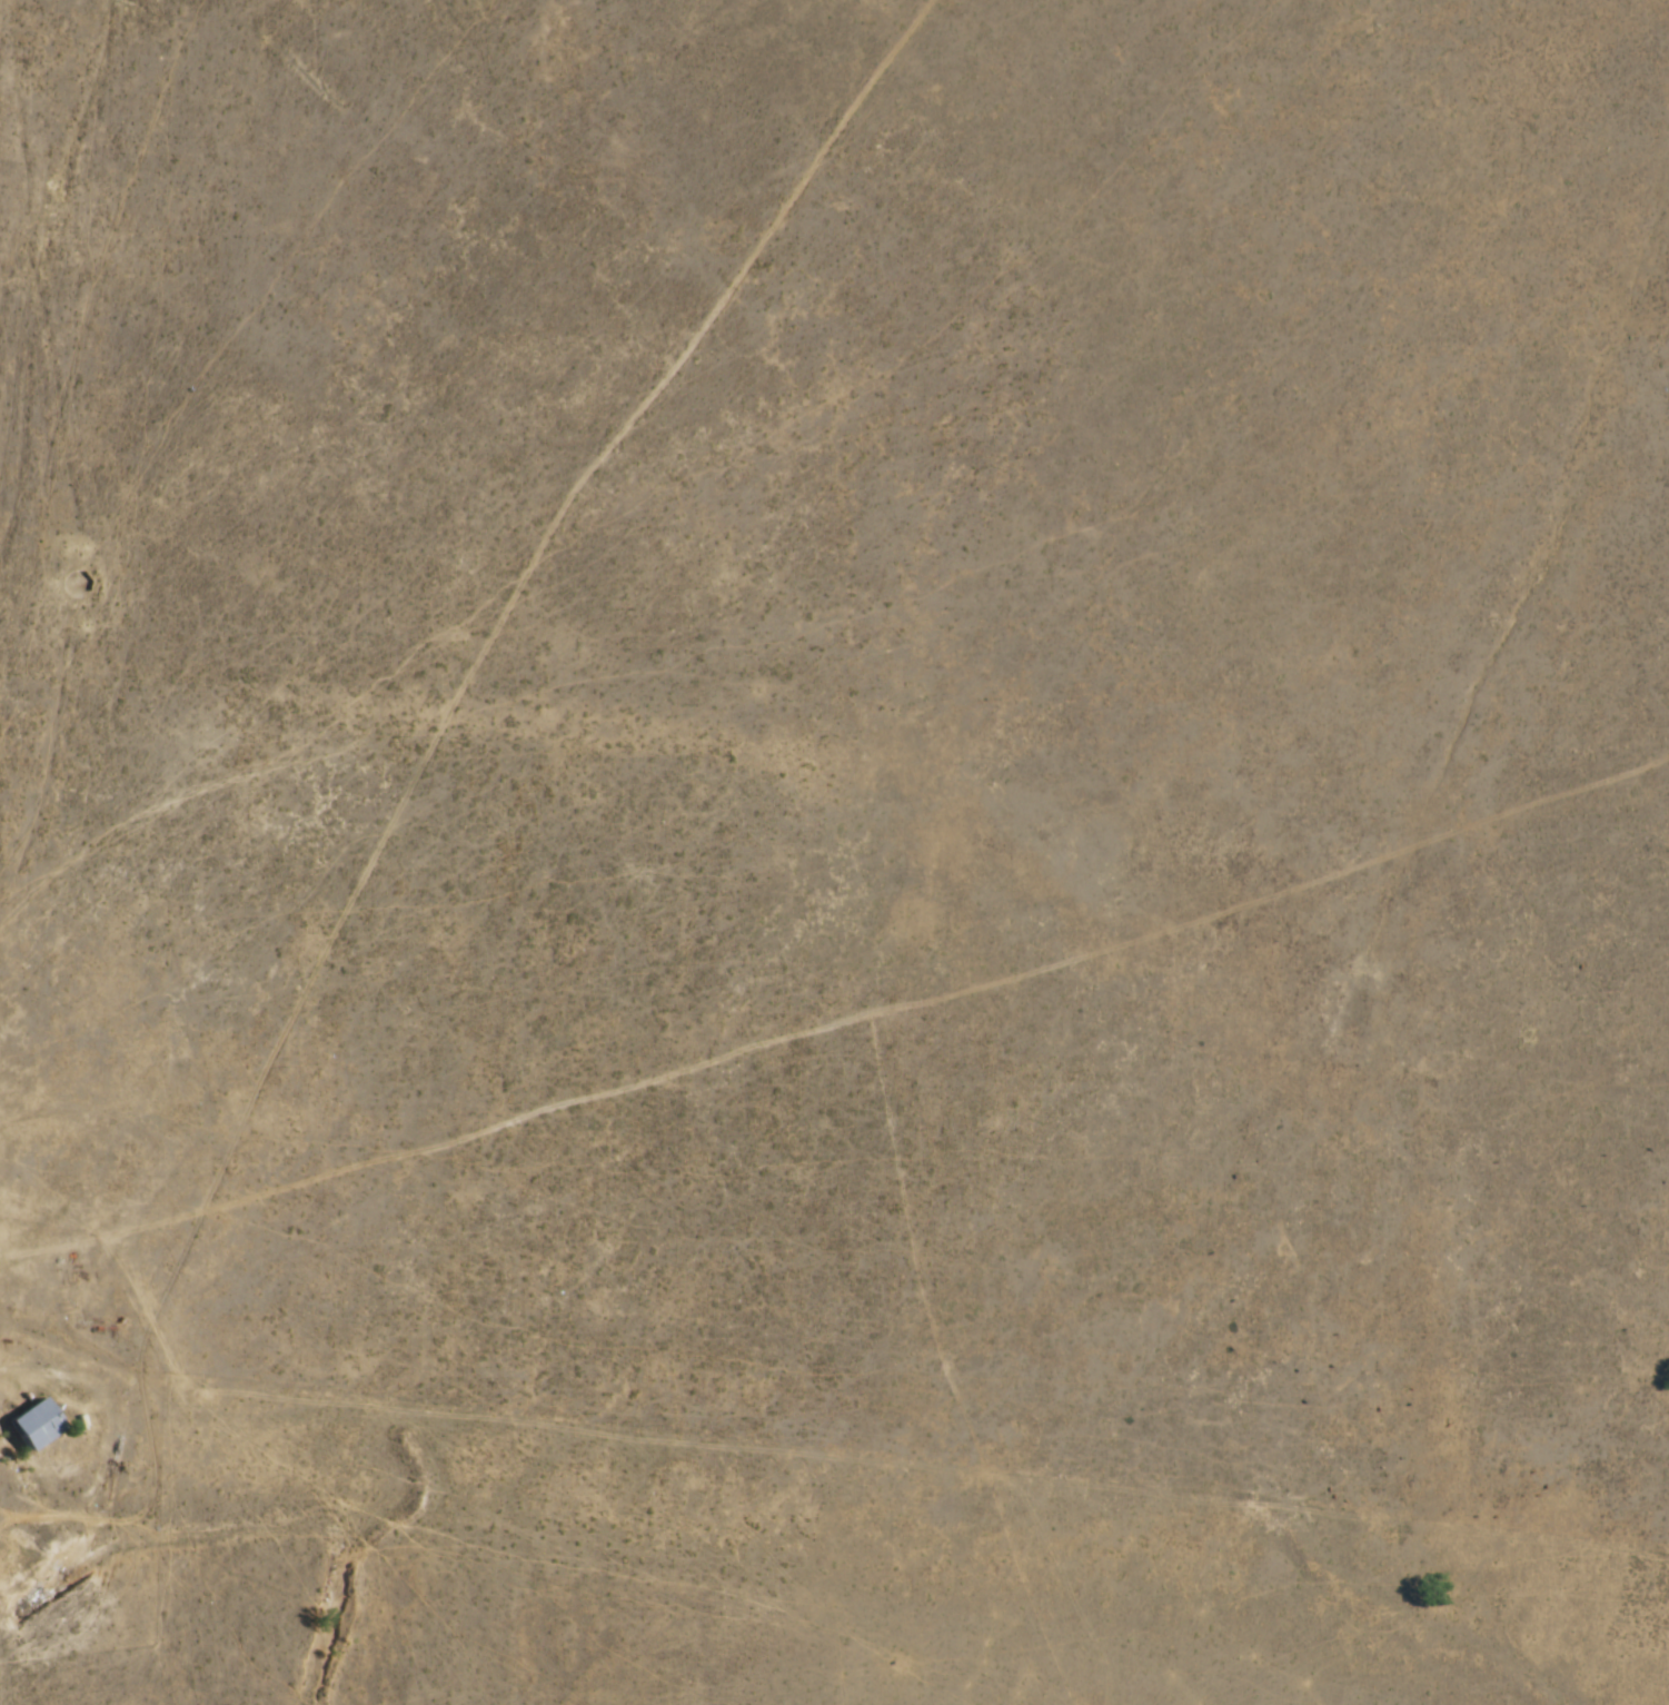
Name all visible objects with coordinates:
building: (33, 1423)

